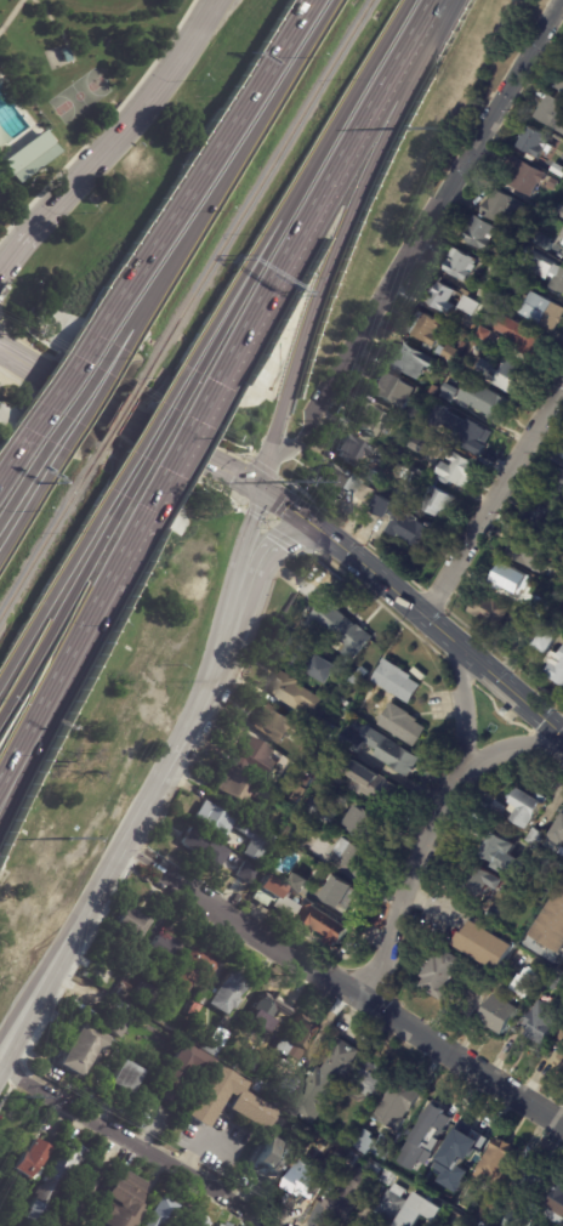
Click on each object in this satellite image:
road: (430, 5)
road: (11, 13)
road: (55, 25)
building: (63, 53)
park: (69, 81)
building: (559, 83)
road: (353, 91)
park: (79, 97)
road: (147, 107)
building: (552, 113)
building: (533, 141)
road: (244, 148)
building: (28, 154)
road: (207, 164)
building: (558, 170)
building: (525, 176)
railway: (256, 192)
road: (319, 194)
building: (501, 206)
building: (553, 210)
building: (562, 218)
road: (341, 229)
road: (419, 233)
building: (480, 234)
road: (28, 239)
building: (545, 242)
building: (561, 250)
building: (507, 256)
building: (460, 265)
building: (546, 269)
road: (240, 272)
road: (250, 276)
building: (488, 293)
building: (444, 299)
building: (504, 300)
building: (474, 307)
building: (544, 311)
building: (493, 312)
road: (137, 314)
road: (142, 317)
building: (428, 329)
building: (488, 335)
building: (523, 337)
building: (462, 346)
building: (448, 353)
building: (409, 359)
building: (504, 376)
road: (64, 384)
building: (392, 390)
road: (84, 392)
road: (25, 397)
road: (97, 397)
building: (478, 401)
railway: (120, 415)
building: (413, 415)
road: (130, 421)
building: (374, 421)
road: (152, 424)
building: (428, 426)
road: (165, 427)
building: (473, 438)
road: (182, 445)
building: (417, 445)
building: (353, 449)
building: (562, 458)
road: (13, 461)
building: (373, 466)
building: (460, 471)
building: (406, 472)
road: (266, 475)
building: (376, 477)
building: (340, 483)
building: (556, 486)
road: (23, 487)
building: (366, 493)
traffic signals: (261, 494)
road: (494, 503)
building: (439, 504)
road: (30, 506)
building: (544, 520)
building: (405, 523)
railway: (51, 533)
road: (271, 543)
road: (243, 544)
building: (530, 554)
road: (356, 562)
building: (510, 579)
road: (58, 580)
building: (547, 592)
road: (66, 602)
building: (539, 608)
building: (491, 612)
building: (340, 628)
road: (80, 630)
building: (529, 630)
building: (546, 640)
building: (312, 659)
building: (556, 668)
building: (365, 671)
building: (357, 680)
building: (397, 681)
road: (505, 687)
road: (204, 693)
building: (296, 693)
building: (342, 699)
road: (462, 708)
building: (403, 723)
building: (279, 725)
building: (324, 727)
building: (352, 740)
road: (505, 749)
building: (392, 753)
road: (7, 766)
building: (254, 767)
road: (7, 779)
building: (371, 784)
building: (300, 794)
building: (528, 806)
building: (499, 810)
building: (320, 811)
building: (215, 818)
building: (365, 822)
building: (277, 824)
building: (248, 827)
building: (300, 836)
building: (535, 838)
building: (557, 838)
building: (258, 845)
building: (206, 850)
building: (502, 856)
road: (143, 857)
building: (351, 857)
building: (556, 868)
building: (249, 872)
building: (485, 881)
building: (300, 882)
road: (406, 890)
building: (339, 892)
road: (432, 907)
building: (303, 910)
building: (491, 916)
road: (83, 919)
building: (132, 923)
building: (551, 933)
road: (265, 937)
building: (488, 946)
building: (165, 949)
building: (205, 967)
road: (40, 971)
building: (444, 974)
building: (106, 975)
building: (557, 980)
building: (228, 992)
building: (203, 994)
building: (143, 995)
building: (512, 1001)
building: (194, 1008)
building: (265, 1011)
building: (116, 1018)
building: (544, 1020)
building: (298, 1034)
building: (562, 1037)
building: (216, 1039)
building: (83, 1048)
building: (146, 1050)
building: (562, 1055)
building: (251, 1061)
road: (4, 1063)
road: (464, 1065)
building: (546, 1067)
building: (182, 1069)
building: (126, 1074)
building: (369, 1075)
building: (323, 1082)
building: (285, 1084)
building: (258, 1085)
building: (246, 1102)
building: (397, 1103)
building: (434, 1114)
building: (467, 1137)
building: (374, 1145)
road: (140, 1147)
building: (33, 1158)
building: (273, 1158)
building: (499, 1160)
building: (423, 1163)
building: (374, 1169)
building: (386, 1177)
building: (56, 1179)
building: (309, 1179)
building: (455, 1184)
building: (349, 1188)
building: (377, 1190)
building: (531, 1190)
building: (83, 1192)
building: (125, 1201)
building: (391, 1202)
building: (8, 1204)
building: (557, 1207)
building: (165, 1210)
building: (422, 1210)
building: (487, 1210)
building: (199, 1221)
building: (7, 1224)
building: (226, 1224)
building: (461, 1225)

